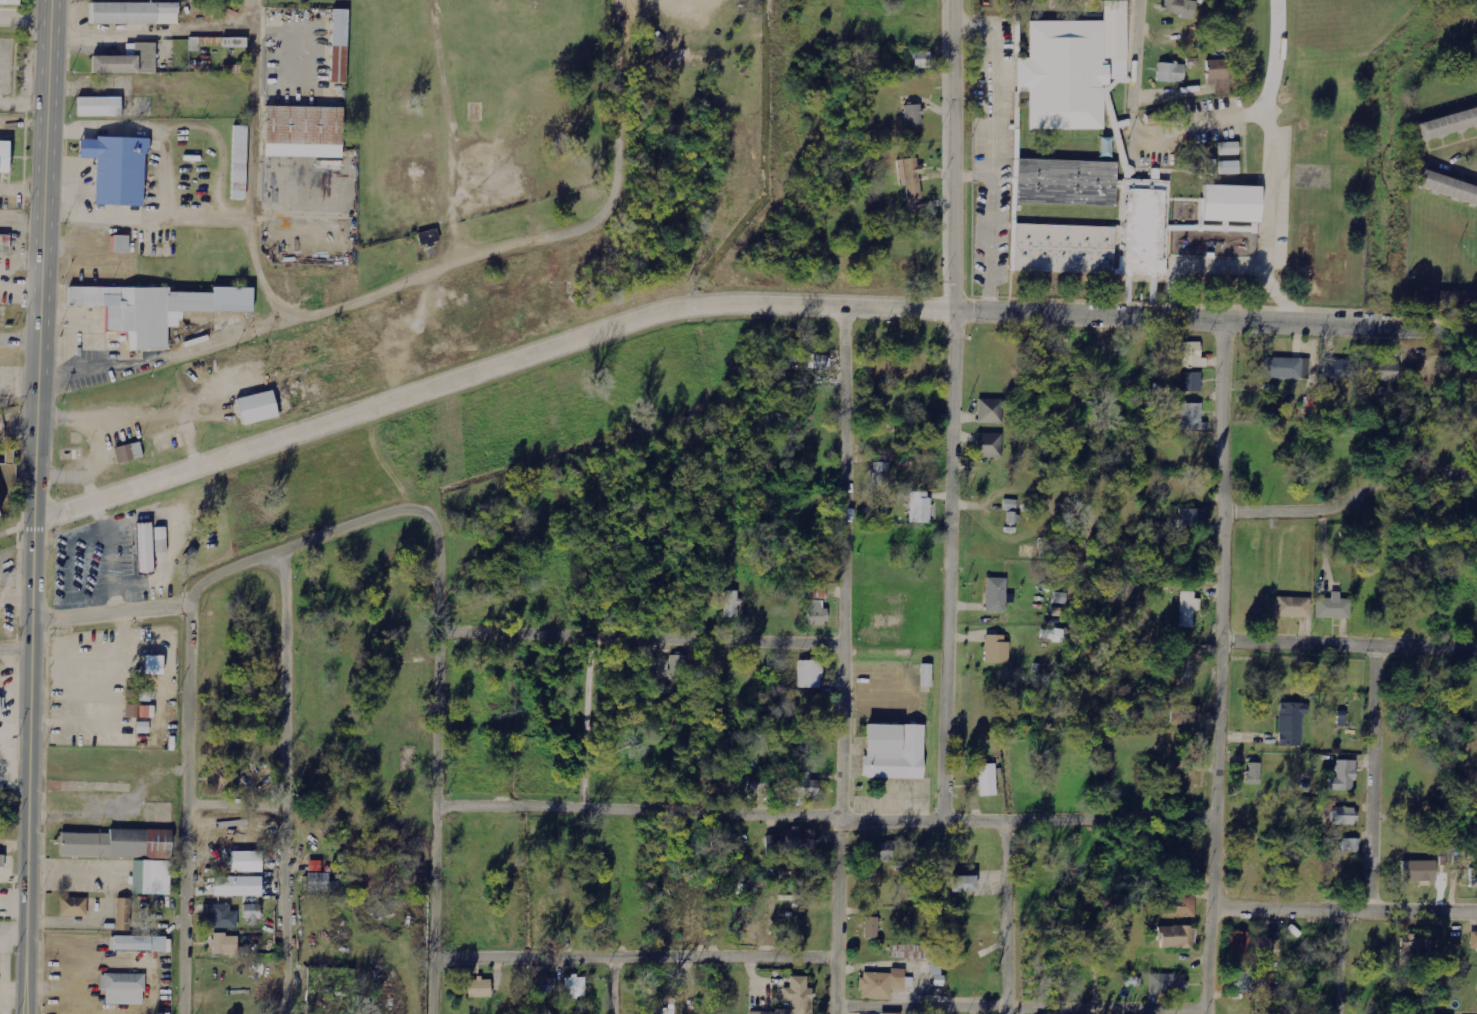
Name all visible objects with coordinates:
building: (10, 2)
road: (257, 2)
building: (1180, 8)
building: (131, 14)
road: (28, 18)
road: (154, 32)
building: (234, 43)
building: (337, 46)
road: (1133, 53)
building: (922, 60)
building: (126, 61)
building: (1119, 72)
building: (1170, 73)
building: (1219, 75)
building: (1061, 76)
building: (98, 107)
building: (913, 115)
building: (1447, 125)
building: (302, 126)
building: (1229, 149)
road: (944, 154)
building: (4, 157)
building: (237, 163)
road: (255, 164)
building: (1229, 168)
building: (116, 170)
building: (910, 177)
building: (1447, 188)
building: (1131, 225)
building: (429, 239)
building: (4, 244)
building: (119, 244)
road: (427, 269)
building: (1445, 300)
building: (155, 310)
road: (1215, 321)
building: (1189, 354)
building: (818, 362)
road: (487, 366)
building: (1285, 368)
building: (1339, 370)
building: (1381, 371)
building: (1190, 382)
building: (257, 408)
road: (952, 409)
building: (990, 411)
building: (1191, 417)
road: (191, 446)
building: (990, 446)
building: (125, 454)
building: (881, 475)
building: (7, 487)
road: (1354, 492)
building: (1010, 505)
road: (37, 506)
building: (920, 508)
building: (1192, 518)
building: (161, 540)
building: (141, 548)
road: (245, 563)
building: (996, 595)
building: (731, 604)
building: (1293, 608)
building: (1333, 608)
building: (1188, 609)
building: (817, 613)
road: (643, 636)
road: (1350, 640)
building: (997, 650)
road: (15, 652)
road: (844, 659)
building: (678, 665)
road: (1222, 668)
building: (809, 675)
building: (1182, 675)
building: (926, 676)
road: (587, 721)
building: (1291, 723)
building: (893, 753)
building: (1253, 773)
road: (1376, 775)
building: (1344, 776)
road: (436, 778)
building: (224, 779)
building: (987, 779)
road: (282, 782)
building: (758, 782)
building: (804, 787)
road: (234, 807)
road: (186, 810)
road: (827, 816)
building: (1345, 816)
building: (800, 839)
building: (114, 845)
building: (1350, 845)
building: (880, 850)
building: (0, 860)
building: (246, 861)
building: (1419, 870)
building: (1473, 877)
building: (148, 879)
building: (317, 882)
building: (964, 883)
building: (237, 886)
building: (1180, 905)
building: (71, 908)
road: (1344, 910)
building: (252, 914)
building: (121, 916)
building: (222, 916)
road: (1006, 916)
building: (871, 927)
building: (975, 933)
building: (1177, 937)
building: (1473, 939)
building: (1239, 942)
building: (142, 943)
building: (225, 944)
building: (1411, 946)
building: (1267, 949)
road: (633, 957)
road: (1345, 961)
building: (1240, 982)
building: (544, 983)
building: (881, 983)
building: (1168, 984)
road: (616, 985)
building: (574, 987)
building: (480, 988)
building: (120, 991)
road: (1021, 1009)

